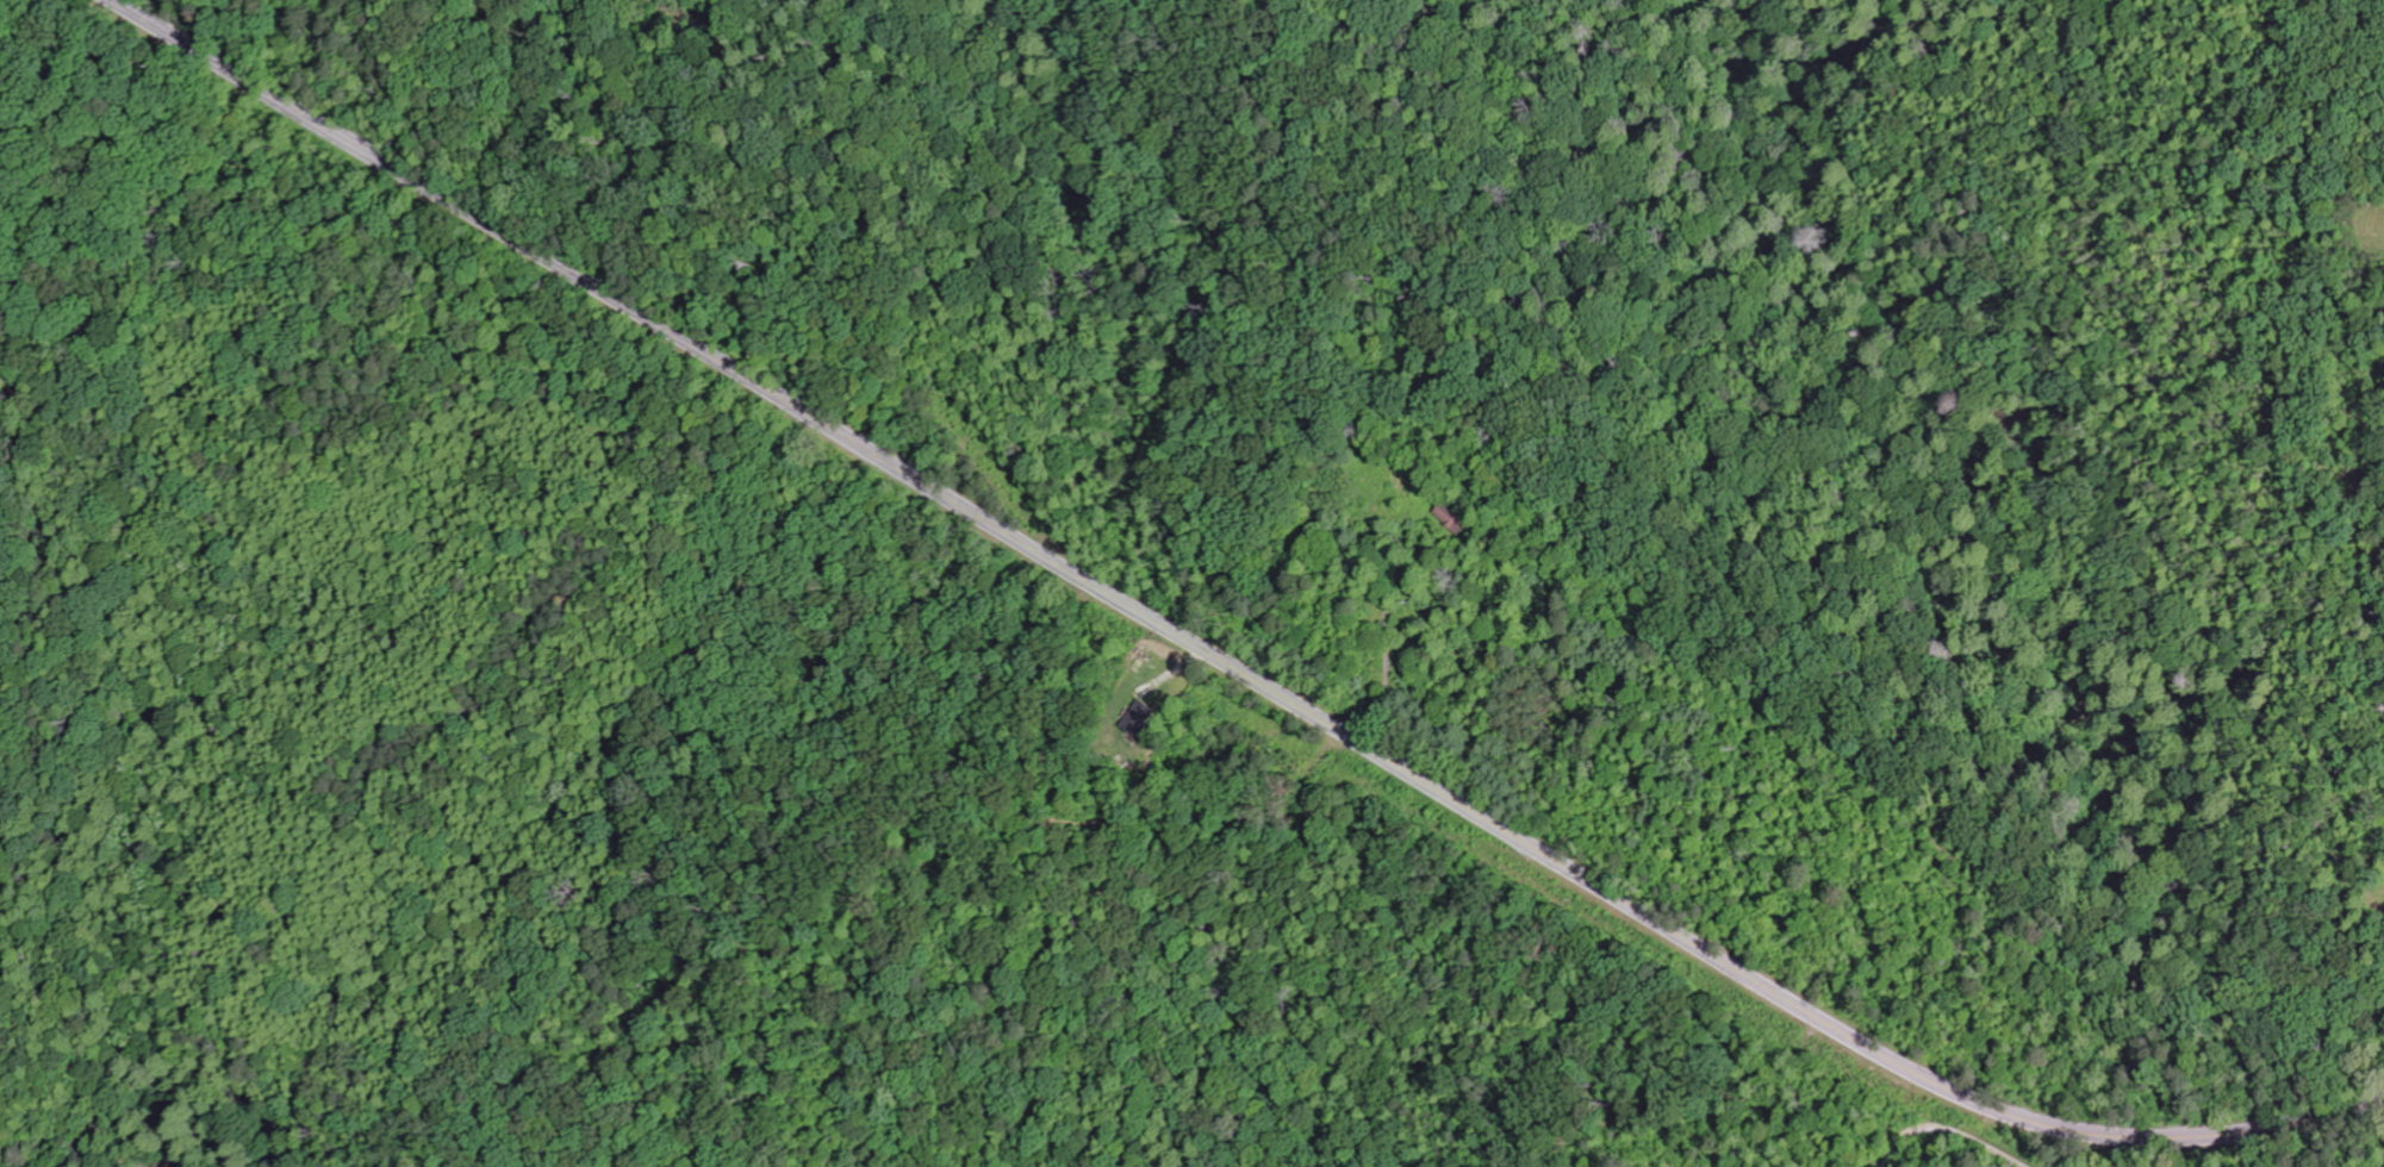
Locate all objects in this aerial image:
road: (1221, 659)
road: (1942, 1134)

